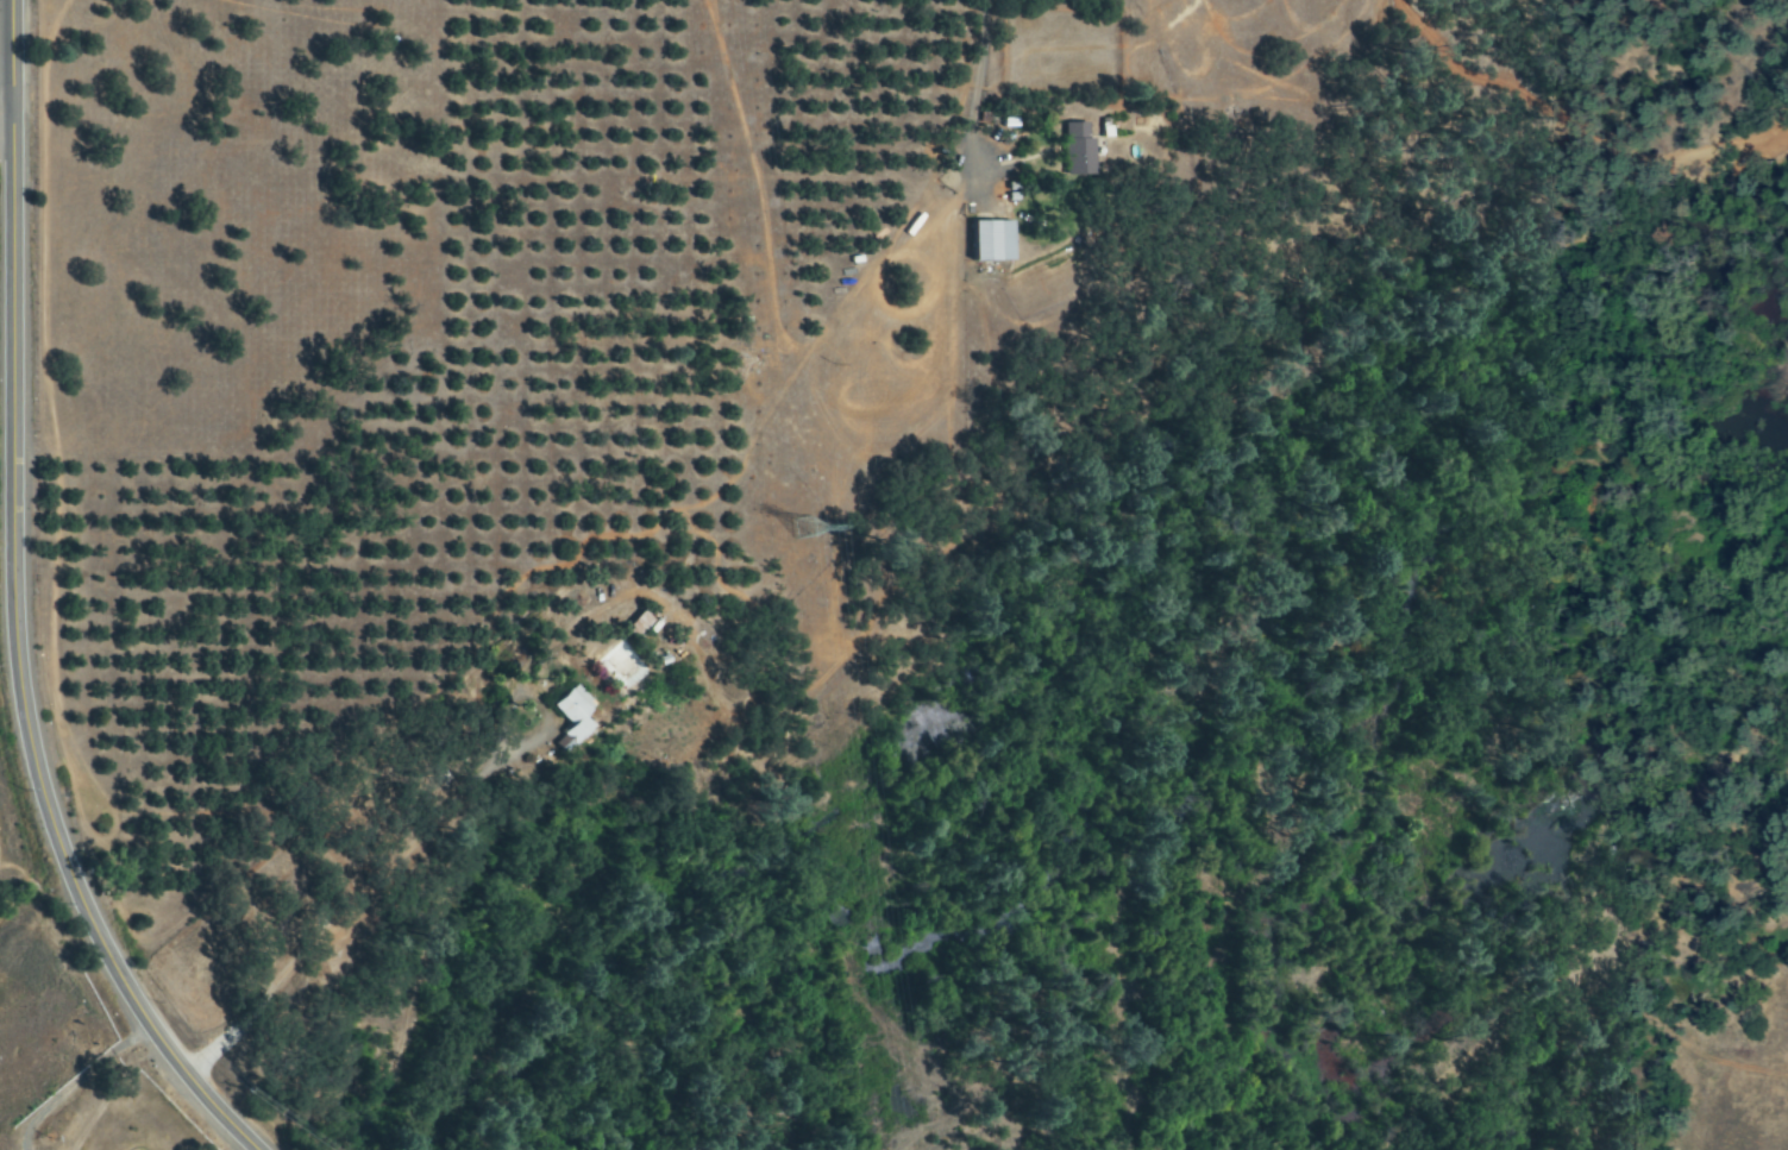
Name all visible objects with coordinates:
road: (1015, 59)
road: (6, 114)
building: (1075, 150)
building: (986, 241)
power tower: (814, 527)
road: (15, 608)
building: (576, 718)
road: (366, 907)

